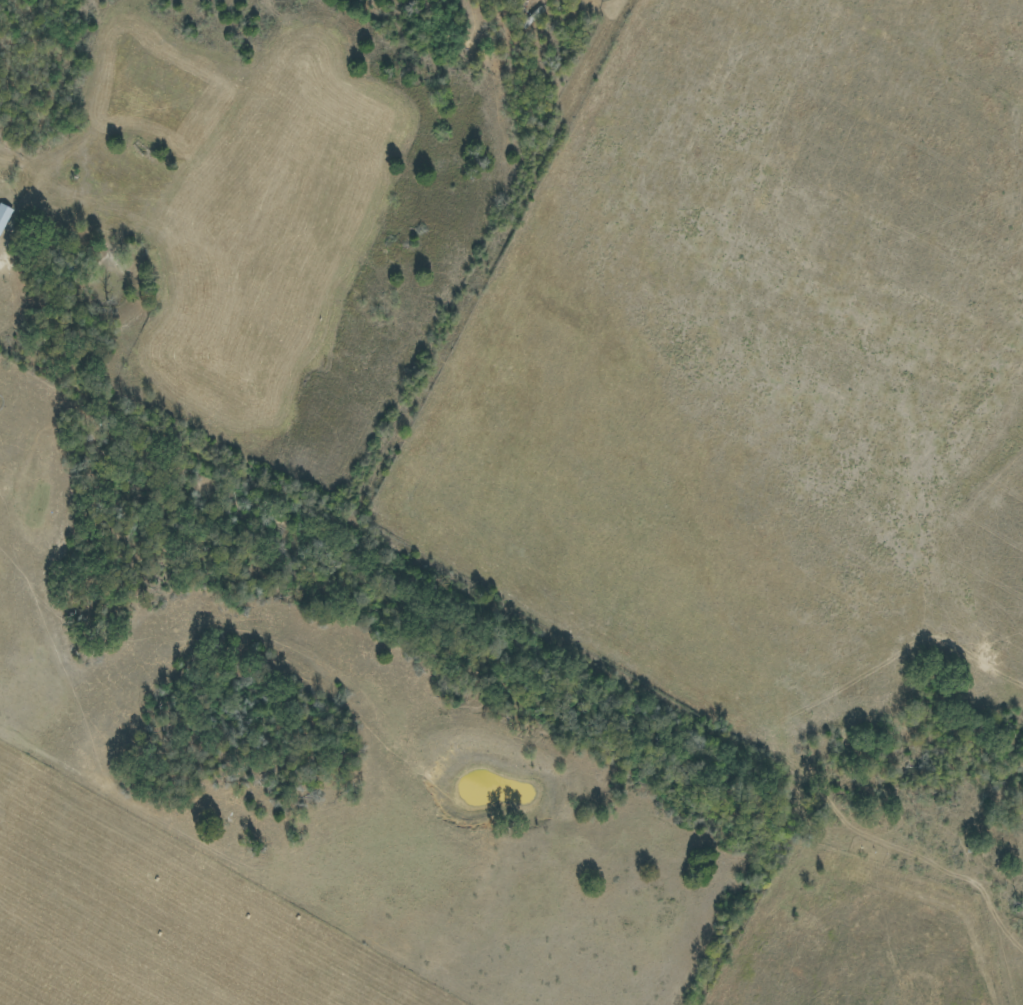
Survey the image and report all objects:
road: (2, 262)
road: (504, 286)
road: (190, 462)
road: (667, 749)

